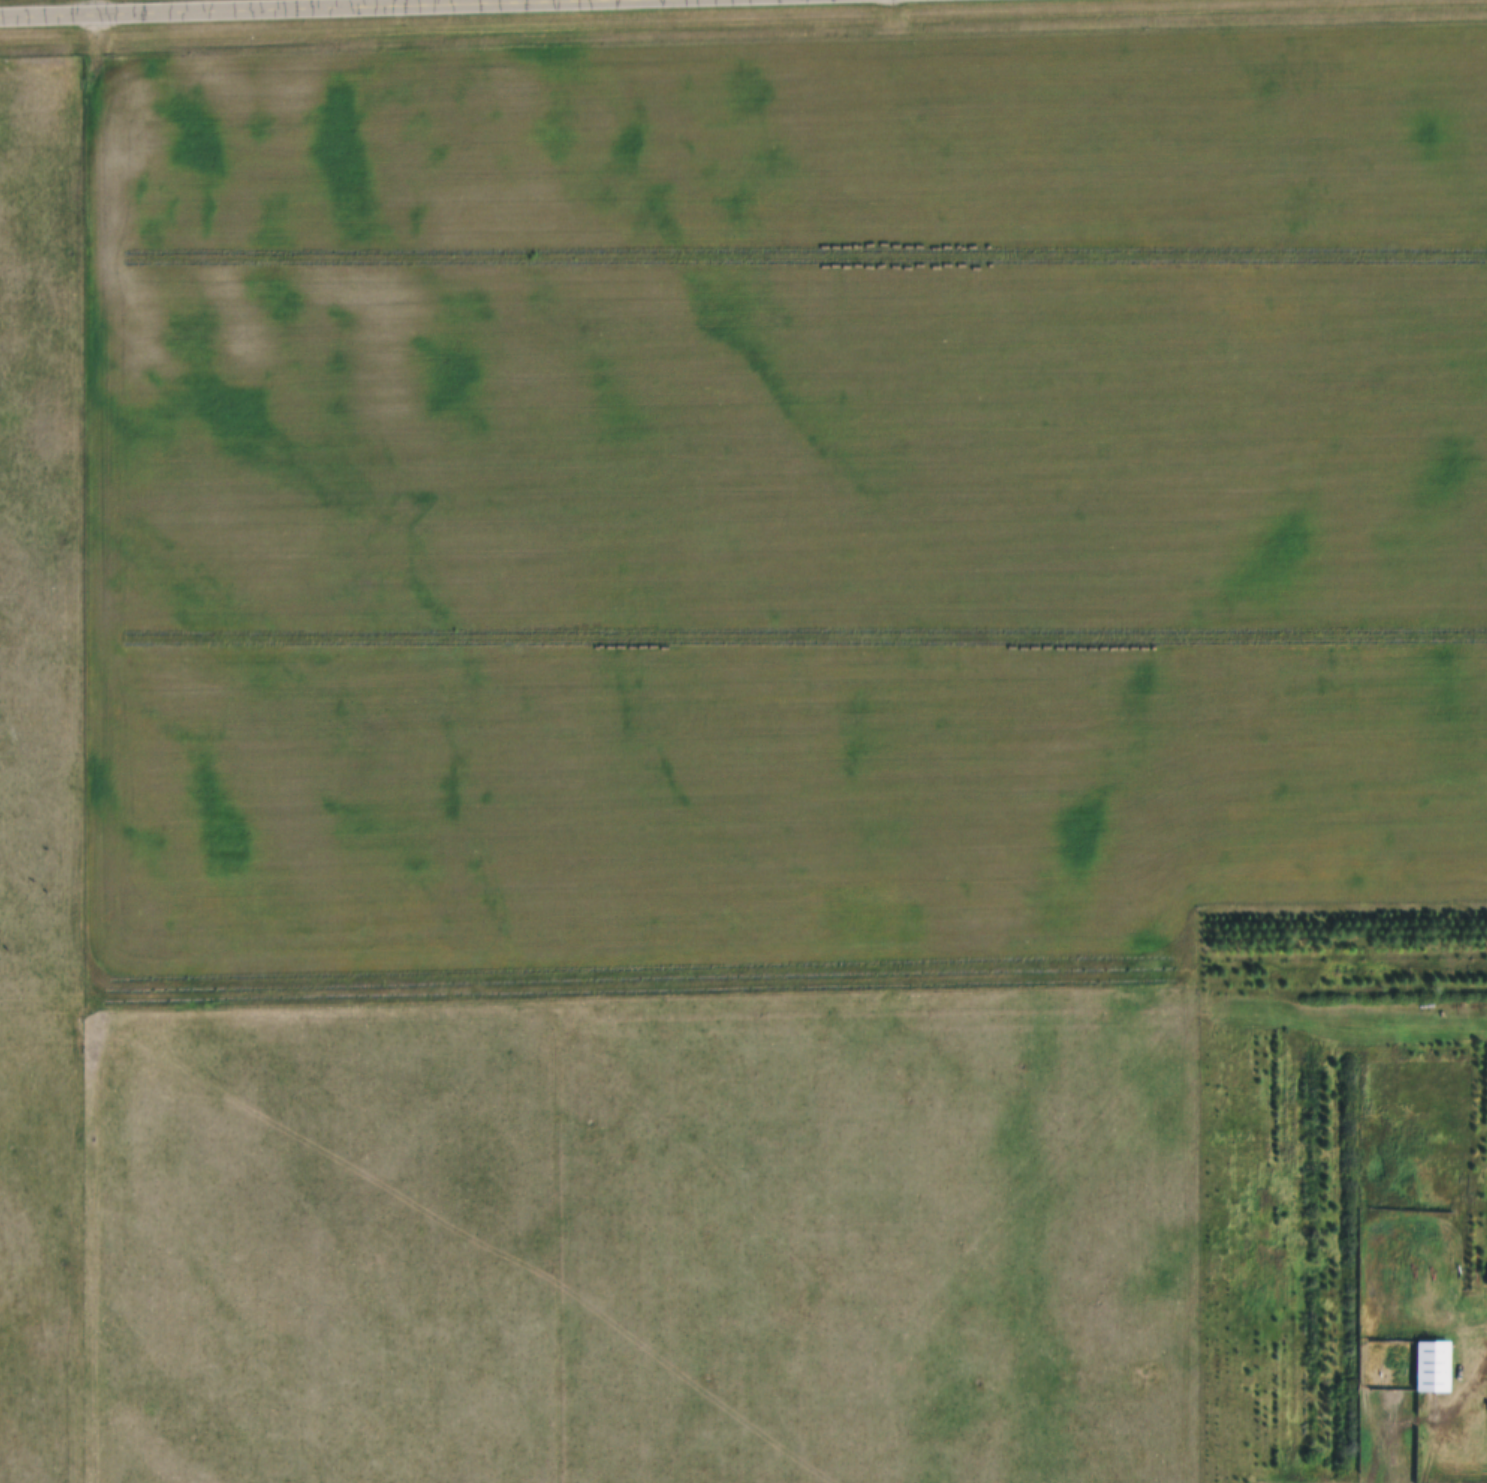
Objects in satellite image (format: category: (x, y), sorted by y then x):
road: (245, 6)
building: (1485, 1279)
building: (1431, 1367)
road: (1464, 1405)

